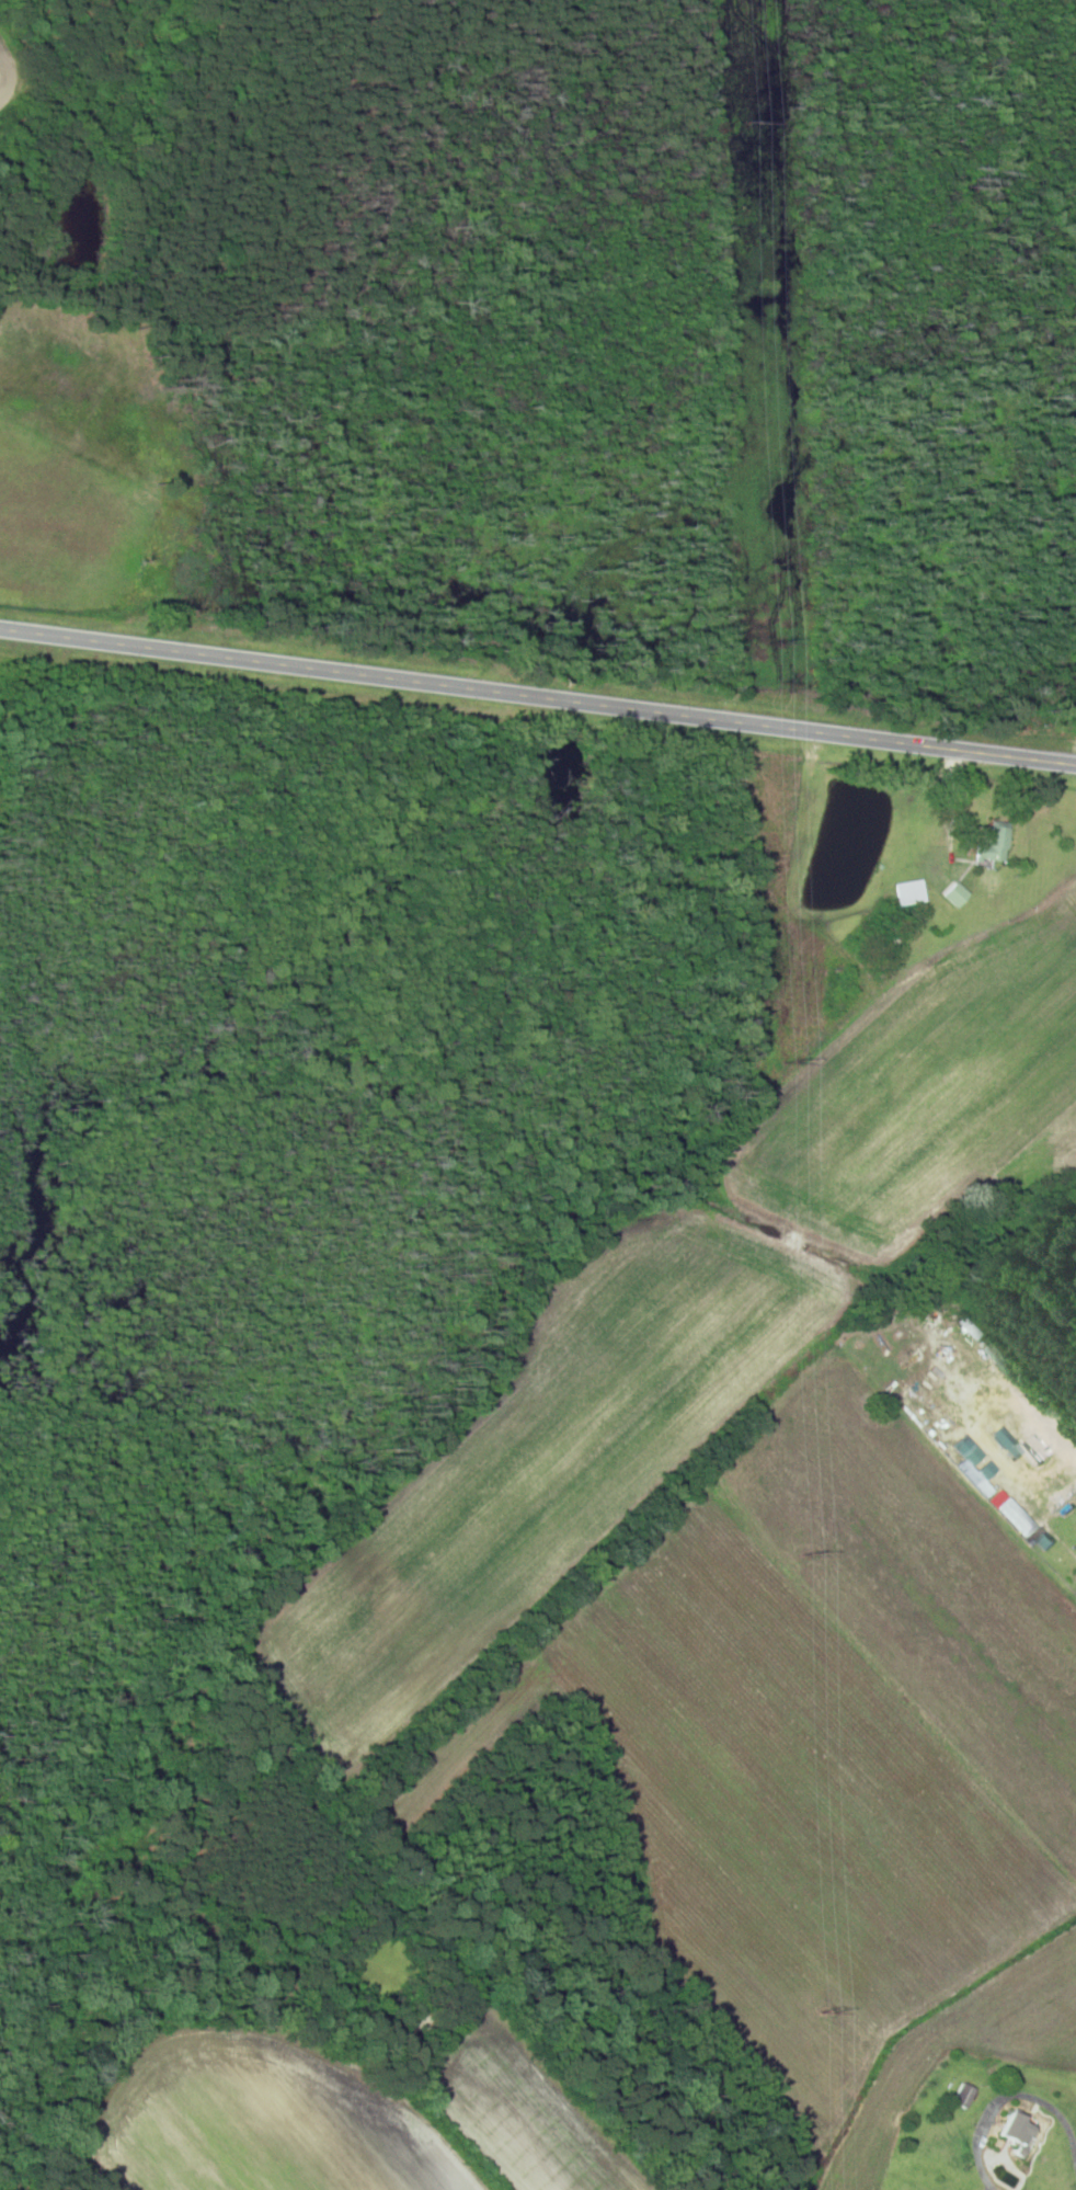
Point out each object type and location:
power tower: (762, 121)
power tower: (787, 643)
road: (537, 698)
building: (996, 844)
power tower: (795, 1061)
building: (1009, 1442)
building: (993, 1465)
power tower: (810, 1554)
power tower: (828, 2012)
building: (964, 2096)
building: (1021, 2129)

